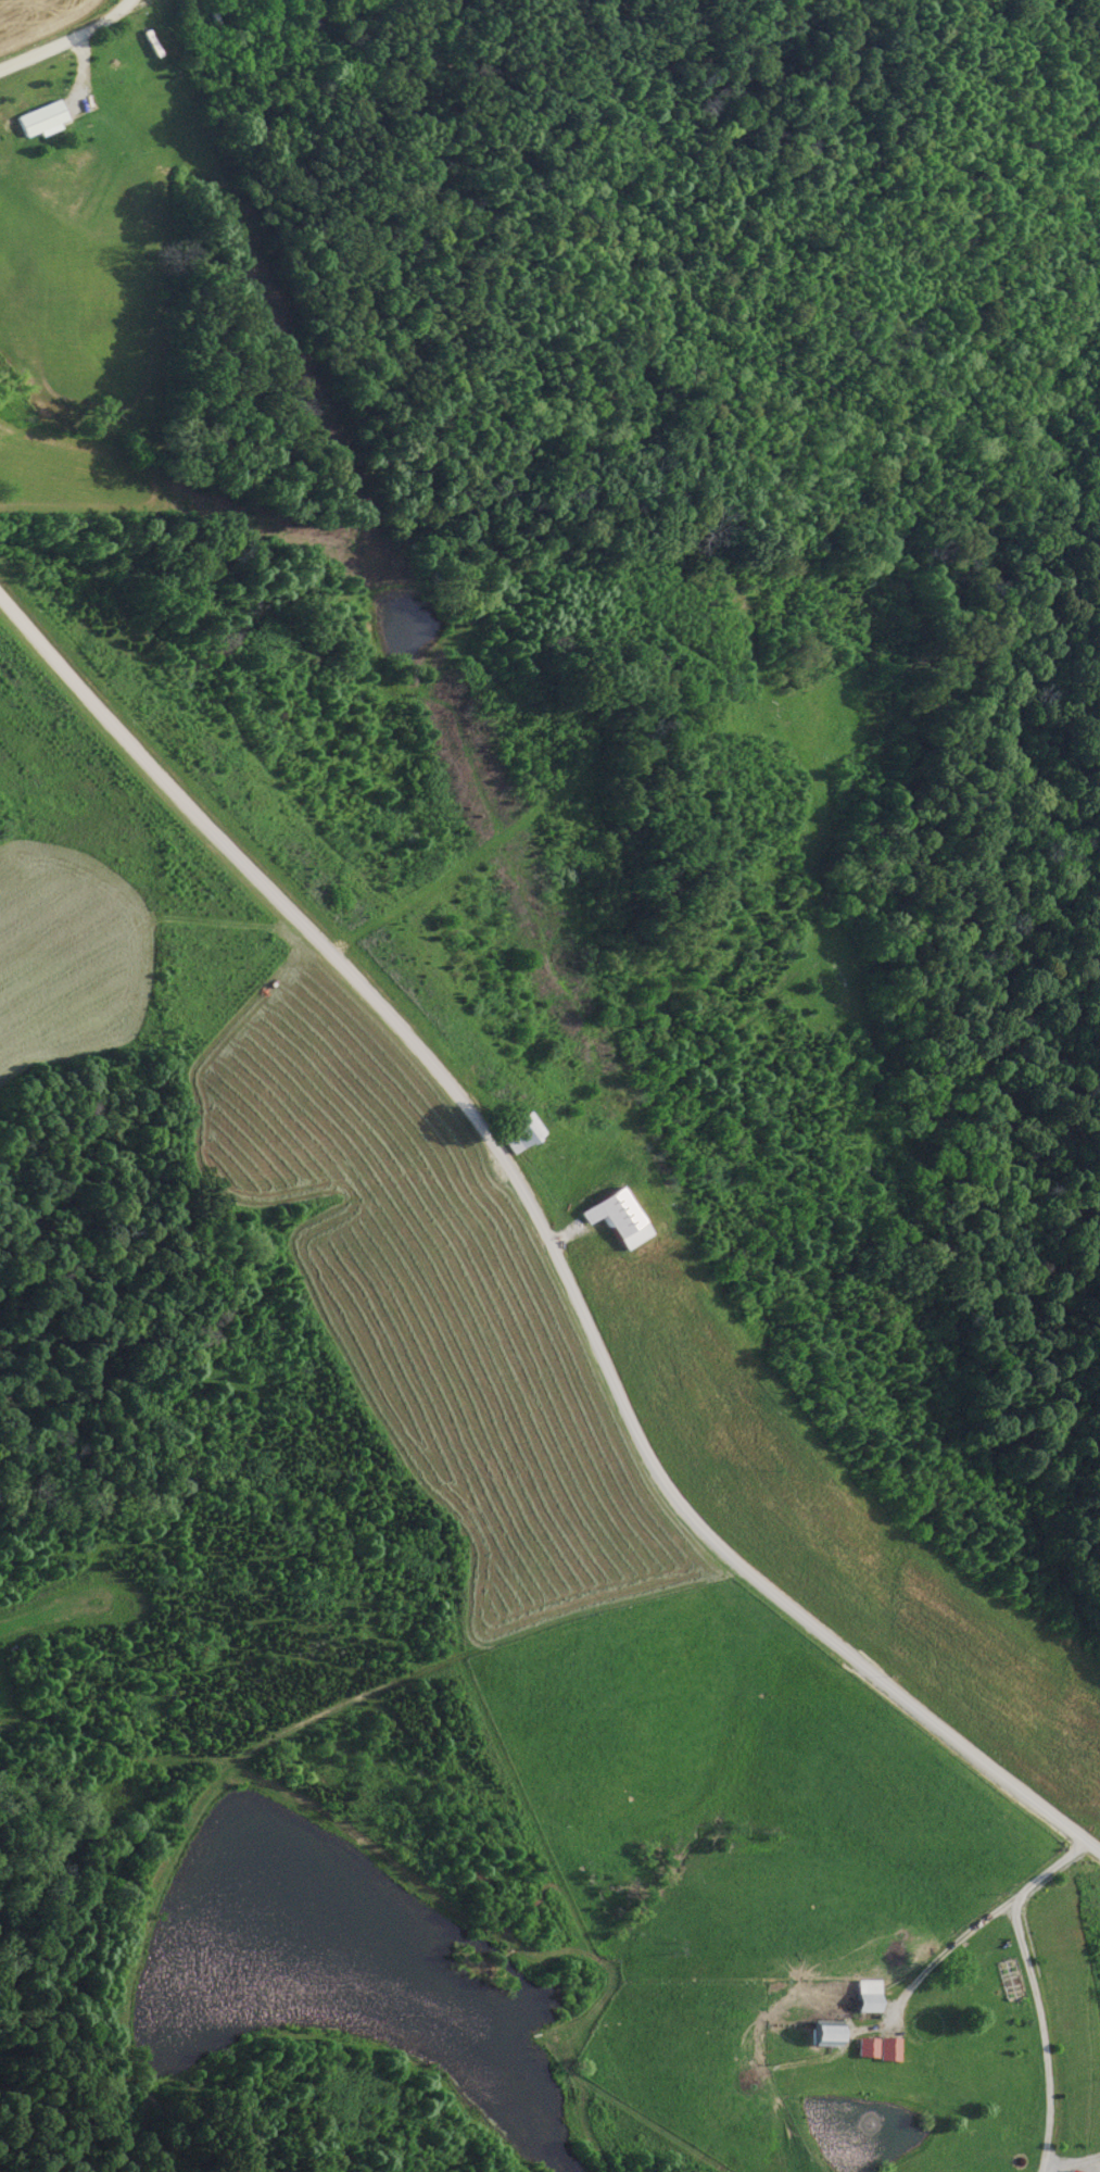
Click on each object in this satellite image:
road: (69, 35)
building: (148, 45)
building: (39, 121)
building: (516, 1132)
building: (614, 1219)
road: (536, 1233)
building: (864, 1997)
building: (818, 2035)
building: (874, 2049)

